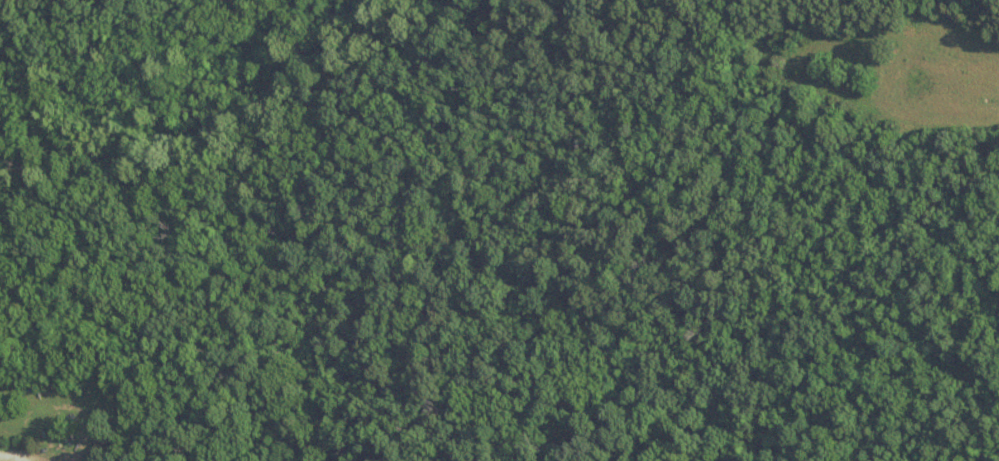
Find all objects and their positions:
road: (12, 456)

